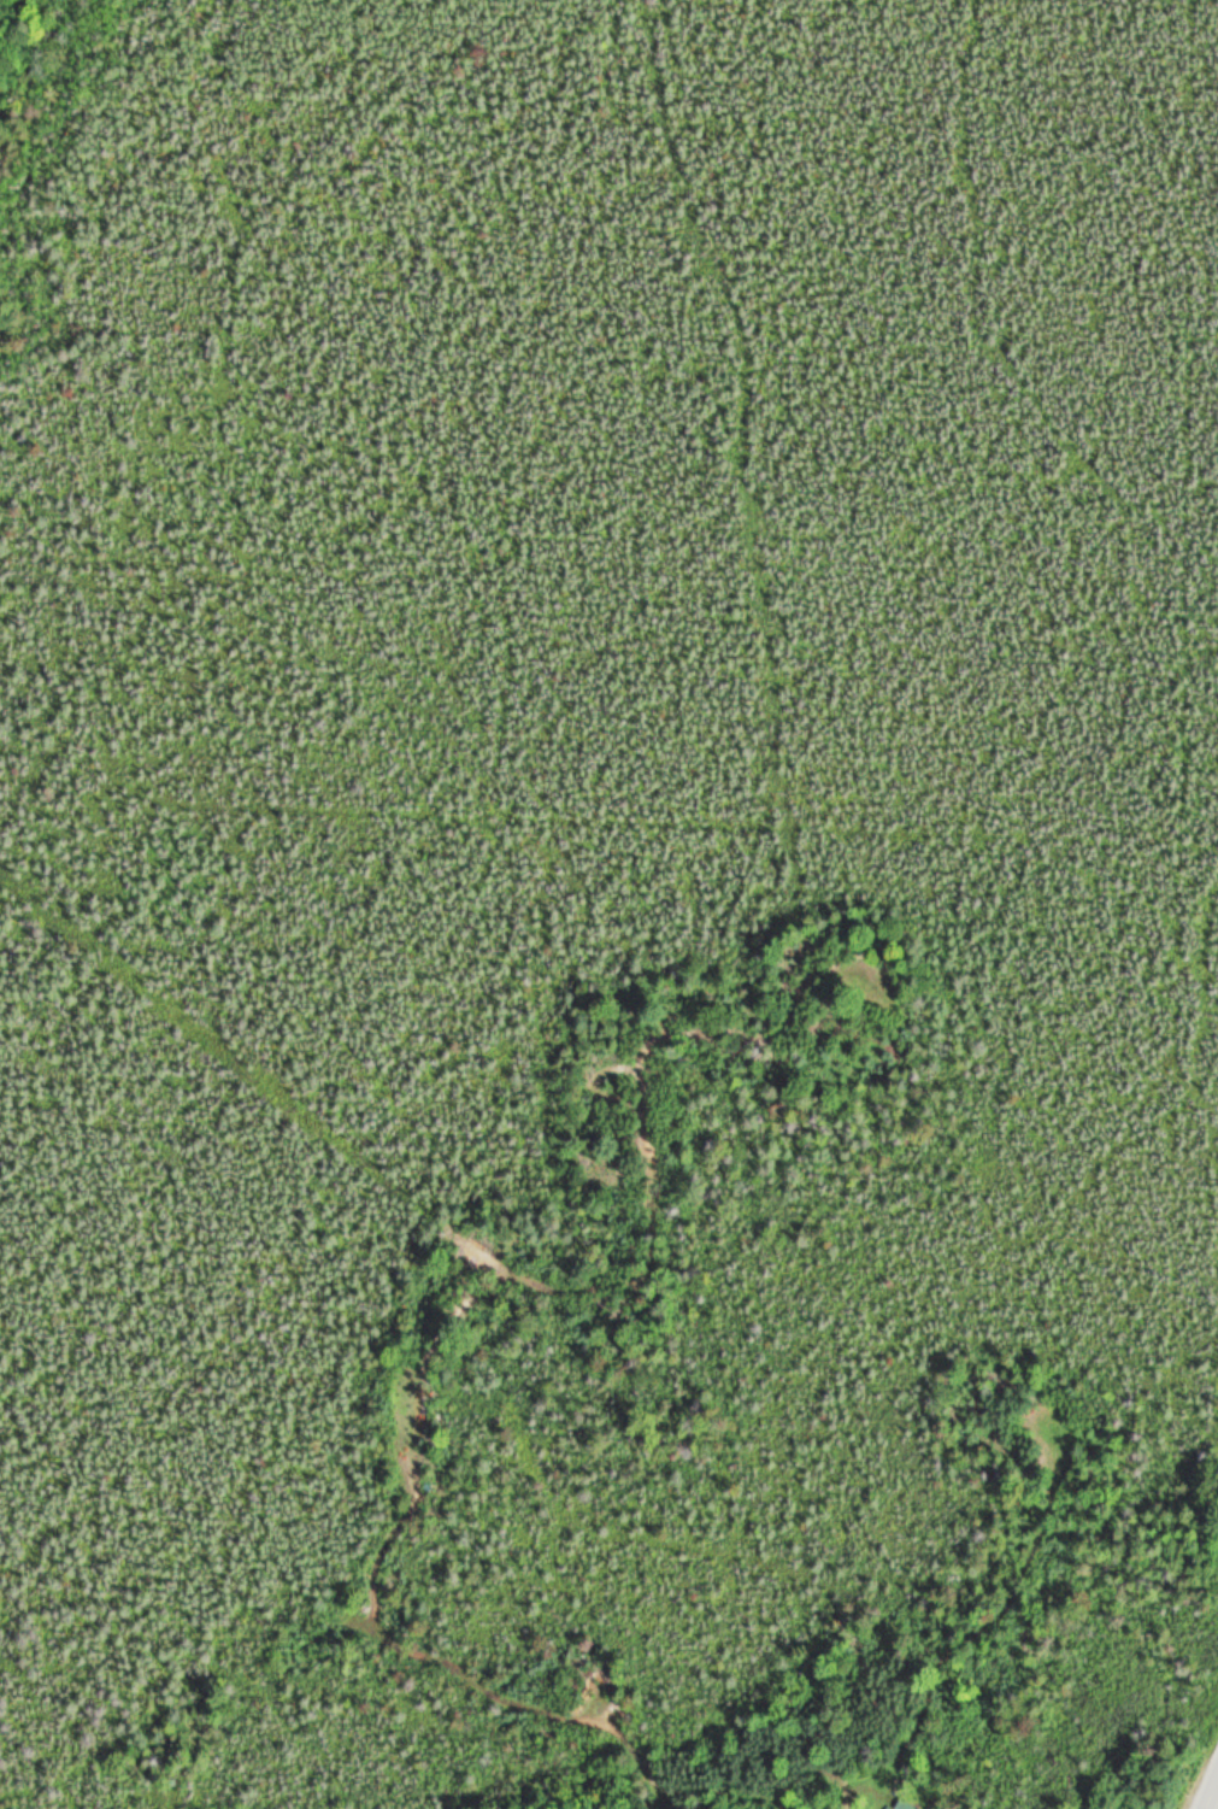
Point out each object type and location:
road: (1210, 1790)

